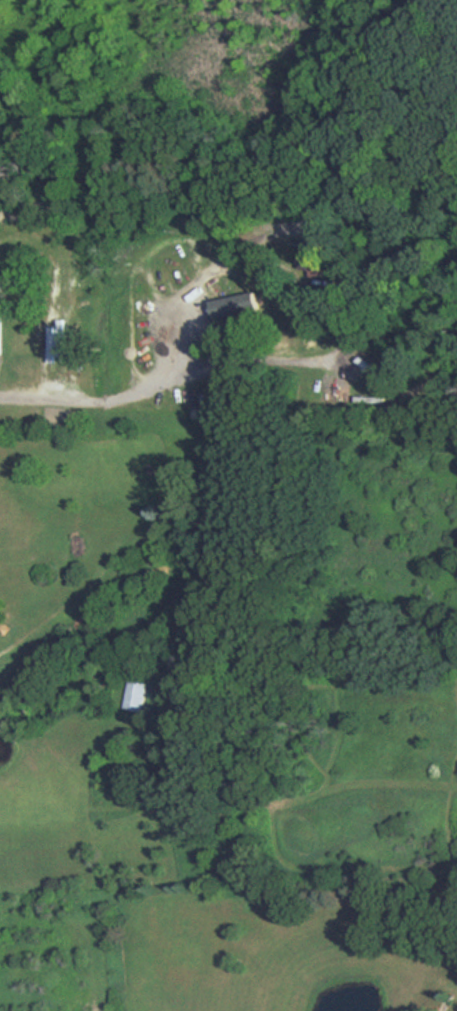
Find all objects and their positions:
building: (14, 170)
building: (321, 255)
building: (236, 305)
building: (0, 332)
road: (101, 400)
building: (136, 695)

